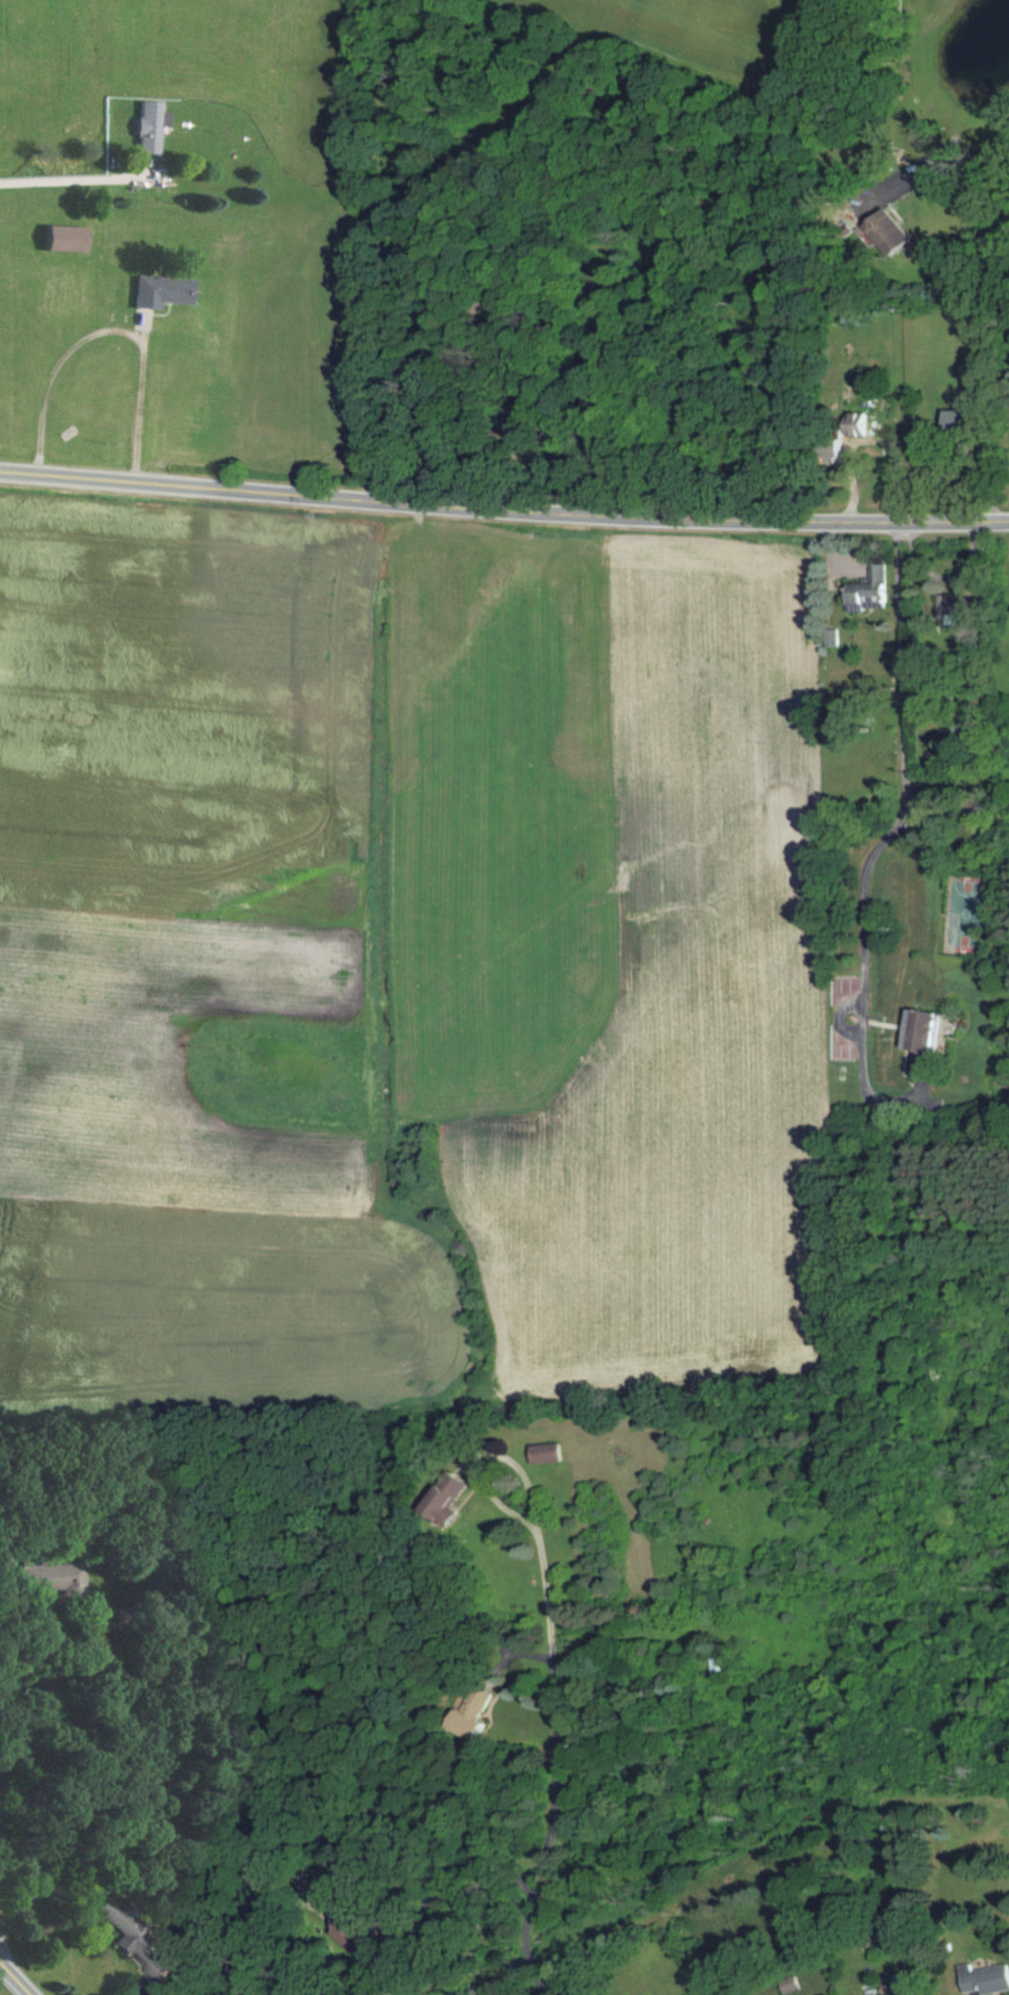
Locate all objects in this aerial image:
building: (143, 126)
road: (140, 168)
road: (945, 171)
road: (78, 181)
building: (58, 238)
building: (156, 291)
road: (53, 368)
road: (137, 397)
building: (964, 405)
building: (857, 423)
road: (503, 508)
road: (940, 579)
building: (871, 587)
building: (954, 605)
building: (832, 636)
road: (904, 778)
building: (924, 1034)
building: (548, 1451)
road: (487, 1458)
building: (718, 1665)
road: (557, 1765)
road: (389, 1923)
building: (135, 1940)
road: (22, 1971)
building: (983, 1977)
road: (34, 1990)
building: (904, 1992)

